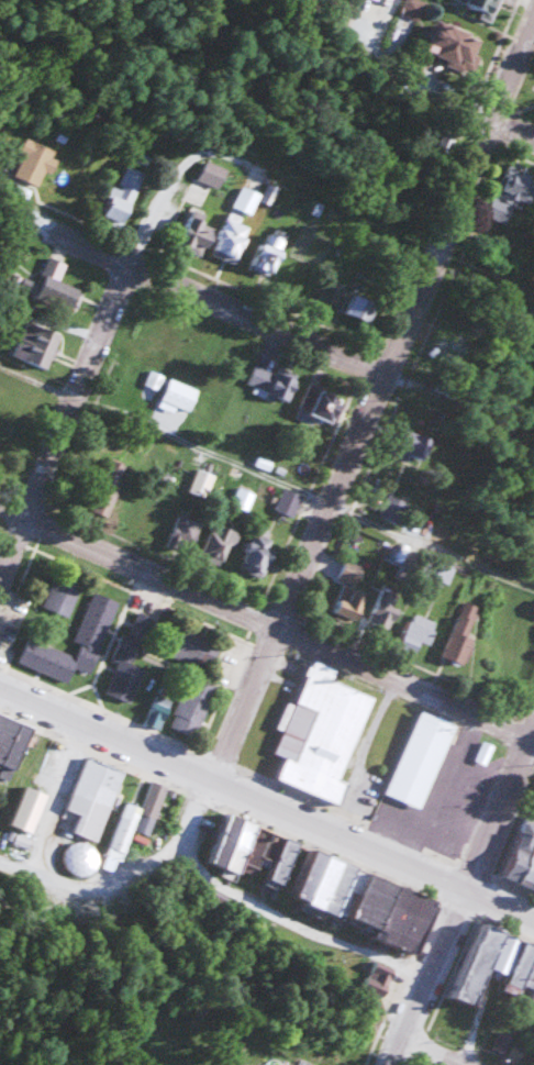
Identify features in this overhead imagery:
building: (412, 8)
road: (374, 20)
building: (456, 44)
road: (446, 93)
park: (529, 97)
building: (31, 162)
building: (512, 192)
building: (121, 196)
building: (193, 232)
building: (231, 241)
building: (268, 252)
building: (58, 285)
building: (331, 291)
road: (213, 302)
building: (359, 308)
building: (37, 343)
building: (449, 352)
road: (92, 356)
building: (155, 379)
building: (272, 380)
building: (178, 396)
road: (374, 398)
building: (321, 402)
building: (412, 443)
road: (268, 473)
building: (108, 486)
building: (288, 501)
building: (186, 529)
building: (219, 543)
building: (257, 554)
building: (62, 592)
building: (349, 592)
building: (385, 608)
building: (96, 618)
road: (265, 628)
building: (463, 632)
building: (416, 633)
building: (189, 644)
building: (126, 665)
building: (192, 706)
building: (158, 710)
building: (321, 733)
building: (11, 744)
building: (482, 752)
building: (420, 758)
building: (93, 796)
road: (267, 801)
road: (499, 808)
building: (136, 820)
road: (167, 856)
building: (521, 856)
building: (78, 858)
building: (332, 880)
road: (42, 883)
building: (496, 963)
road: (427, 976)
building: (379, 977)
building: (504, 1042)
road: (430, 1052)
building: (291, 1064)

